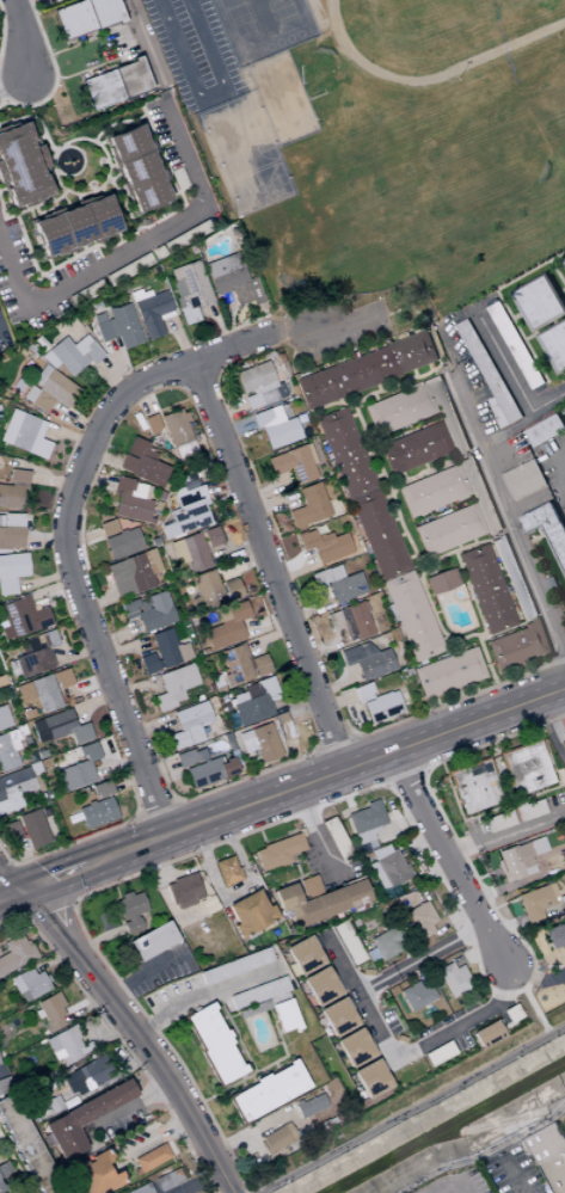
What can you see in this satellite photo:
building: (84, 16)
park: (260, 26)
track: (436, 30)
road: (19, 38)
road: (145, 42)
park: (190, 53)
road: (13, 82)
building: (113, 84)
building: (20, 167)
building: (136, 167)
park: (389, 172)
building: (73, 226)
road: (133, 251)
building: (156, 254)
building: (564, 260)
road: (558, 271)
building: (188, 290)
road: (563, 290)
building: (85, 295)
road: (504, 302)
building: (541, 303)
road: (411, 307)
building: (149, 312)
road: (518, 315)
building: (116, 326)
parking lot: (332, 327)
road: (545, 328)
building: (516, 345)
building: (554, 346)
building: (69, 355)
road: (542, 358)
road: (431, 368)
building: (367, 370)
road: (447, 373)
building: (490, 373)
road: (416, 374)
road: (512, 375)
road: (393, 381)
road: (412, 381)
building: (257, 382)
road: (377, 387)
building: (47, 389)
road: (379, 389)
road: (391, 392)
road: (356, 396)
road: (374, 396)
road: (140, 399)
road: (339, 401)
road: (234, 408)
building: (400, 408)
building: (499, 413)
road: (352, 414)
building: (448, 416)
building: (266, 417)
building: (151, 424)
road: (234, 429)
building: (176, 430)
building: (546, 430)
road: (509, 431)
building: (281, 432)
building: (23, 435)
building: (414, 448)
building: (345, 453)
building: (309, 454)
road: (367, 454)
road: (102, 456)
road: (440, 460)
building: (142, 462)
building: (277, 463)
building: (300, 463)
road: (425, 466)
road: (554, 467)
road: (418, 473)
road: (377, 475)
road: (75, 476)
road: (404, 476)
building: (524, 480)
road: (222, 484)
building: (432, 490)
road: (498, 490)
building: (12, 491)
road: (266, 492)
building: (480, 494)
building: (188, 496)
road: (386, 496)
building: (128, 498)
building: (313, 502)
road: (271, 503)
building: (297, 516)
building: (11, 519)
building: (185, 519)
road: (394, 519)
building: (0, 521)
building: (106, 527)
building: (547, 527)
building: (449, 529)
building: (379, 534)
road: (400, 534)
building: (211, 536)
building: (309, 537)
building: (10, 539)
road: (80, 540)
road: (533, 540)
road: (473, 541)
building: (122, 542)
road: (457, 546)
building: (331, 547)
road: (235, 551)
road: (412, 551)
building: (190, 552)
road: (449, 552)
road: (553, 552)
road: (410, 555)
road: (436, 555)
road: (242, 564)
road: (268, 564)
road: (430, 570)
building: (11, 572)
road: (295, 572)
building: (333, 572)
building: (133, 573)
building: (515, 578)
building: (441, 580)
building: (552, 584)
road: (303, 585)
building: (345, 586)
building: (486, 589)
building: (213, 590)
road: (468, 598)
road: (97, 603)
building: (366, 605)
building: (149, 610)
road: (435, 613)
building: (412, 616)
building: (20, 617)
road: (478, 617)
building: (350, 621)
road: (266, 623)
building: (227, 625)
road: (269, 635)
building: (393, 635)
road: (117, 637)
building: (520, 645)
road: (124, 646)
building: (168, 647)
road: (324, 647)
building: (367, 660)
building: (148, 663)
building: (241, 665)
road: (517, 670)
building: (448, 672)
building: (1, 682)
road: (137, 685)
building: (174, 685)
road: (337, 685)
road: (473, 687)
building: (362, 691)
building: (38, 693)
road: (457, 693)
road: (336, 700)
building: (253, 701)
road: (435, 701)
road: (452, 701)
building: (383, 705)
road: (303, 708)
building: (4, 718)
road: (148, 725)
building: (191, 725)
building: (59, 728)
road: (548, 732)
building: (563, 737)
building: (265, 738)
building: (7, 750)
road: (392, 752)
building: (186, 757)
road: (446, 757)
road: (295, 763)
building: (526, 767)
road: (156, 768)
building: (78, 769)
building: (209, 771)
road: (420, 771)
road: (401, 775)
road: (386, 782)
building: (474, 785)
road: (503, 786)
building: (14, 788)
road: (343, 791)
building: (97, 807)
building: (529, 810)
road: (484, 812)
building: (499, 819)
building: (364, 822)
building: (32, 829)
building: (11, 831)
road: (317, 835)
road: (505, 835)
building: (337, 840)
road: (151, 841)
building: (277, 851)
road: (158, 857)
road: (447, 857)
building: (561, 857)
building: (514, 861)
building: (226, 871)
road: (297, 871)
building: (388, 871)
road: (306, 874)
road: (49, 878)
building: (309, 887)
road: (498, 888)
traffic signals: (17, 890)
road: (115, 890)
road: (234, 890)
building: (184, 891)
road: (8, 892)
road: (75, 898)
road: (72, 900)
building: (318, 902)
building: (536, 902)
building: (561, 902)
road: (47, 908)
building: (130, 910)
building: (250, 914)
road: (23, 917)
road: (4, 918)
building: (420, 920)
road: (505, 926)
building: (554, 936)
road: (96, 939)
building: (152, 941)
building: (386, 942)
building: (346, 943)
building: (14, 953)
road: (434, 953)
building: (303, 955)
road: (530, 958)
road: (50, 961)
building: (235, 966)
road: (146, 973)
road: (553, 977)
building: (453, 978)
building: (27, 984)
building: (319, 986)
building: (258, 992)
road: (204, 995)
building: (416, 996)
road: (277, 998)
road: (266, 1006)
road: (84, 1007)
road: (252, 1007)
building: (253, 1009)
building: (49, 1011)
road: (232, 1015)
building: (284, 1015)
road: (221, 1017)
building: (336, 1017)
road: (127, 1023)
road: (102, 1026)
road: (235, 1032)
building: (486, 1033)
road: (118, 1041)
building: (65, 1044)
building: (211, 1044)
building: (352, 1047)
road: (238, 1052)
road: (407, 1052)
road: (275, 1065)
road: (264, 1066)
road: (1, 1070)
building: (86, 1075)
building: (370, 1078)
building: (5, 1084)
road: (241, 1084)
building: (266, 1091)
road: (130, 1103)
building: (309, 1105)
road: (410, 1109)
building: (82, 1118)
road: (251, 1130)
building: (277, 1137)
road: (152, 1139)
building: (26, 1146)
building: (527, 1148)
road: (484, 1154)
building: (551, 1155)
building: (151, 1157)
building: (4, 1168)
road: (512, 1169)
building: (94, 1175)
building: (167, 1180)
road: (197, 1181)
road: (455, 1183)
building: (1, 1188)
building: (141, 1189)

